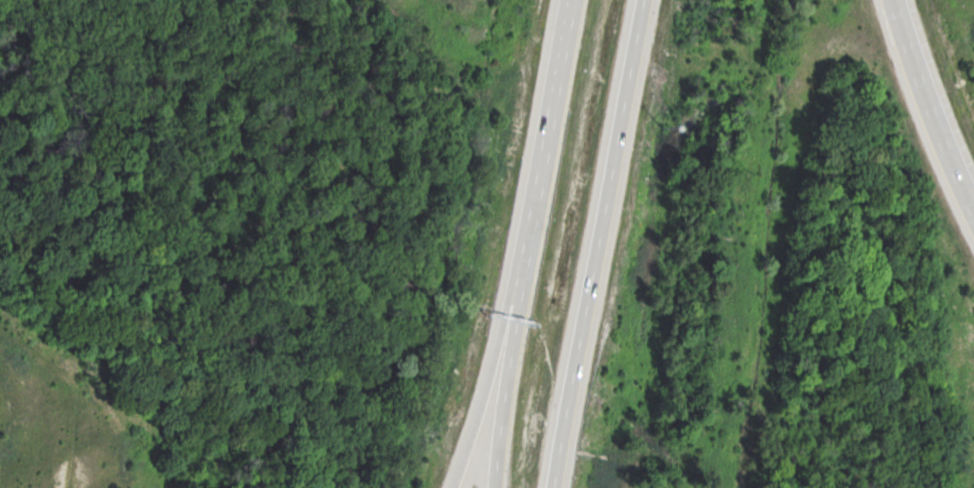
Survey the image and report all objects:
road: (928, 107)
road: (543, 132)
road: (594, 243)
road: (503, 376)
road: (485, 377)

